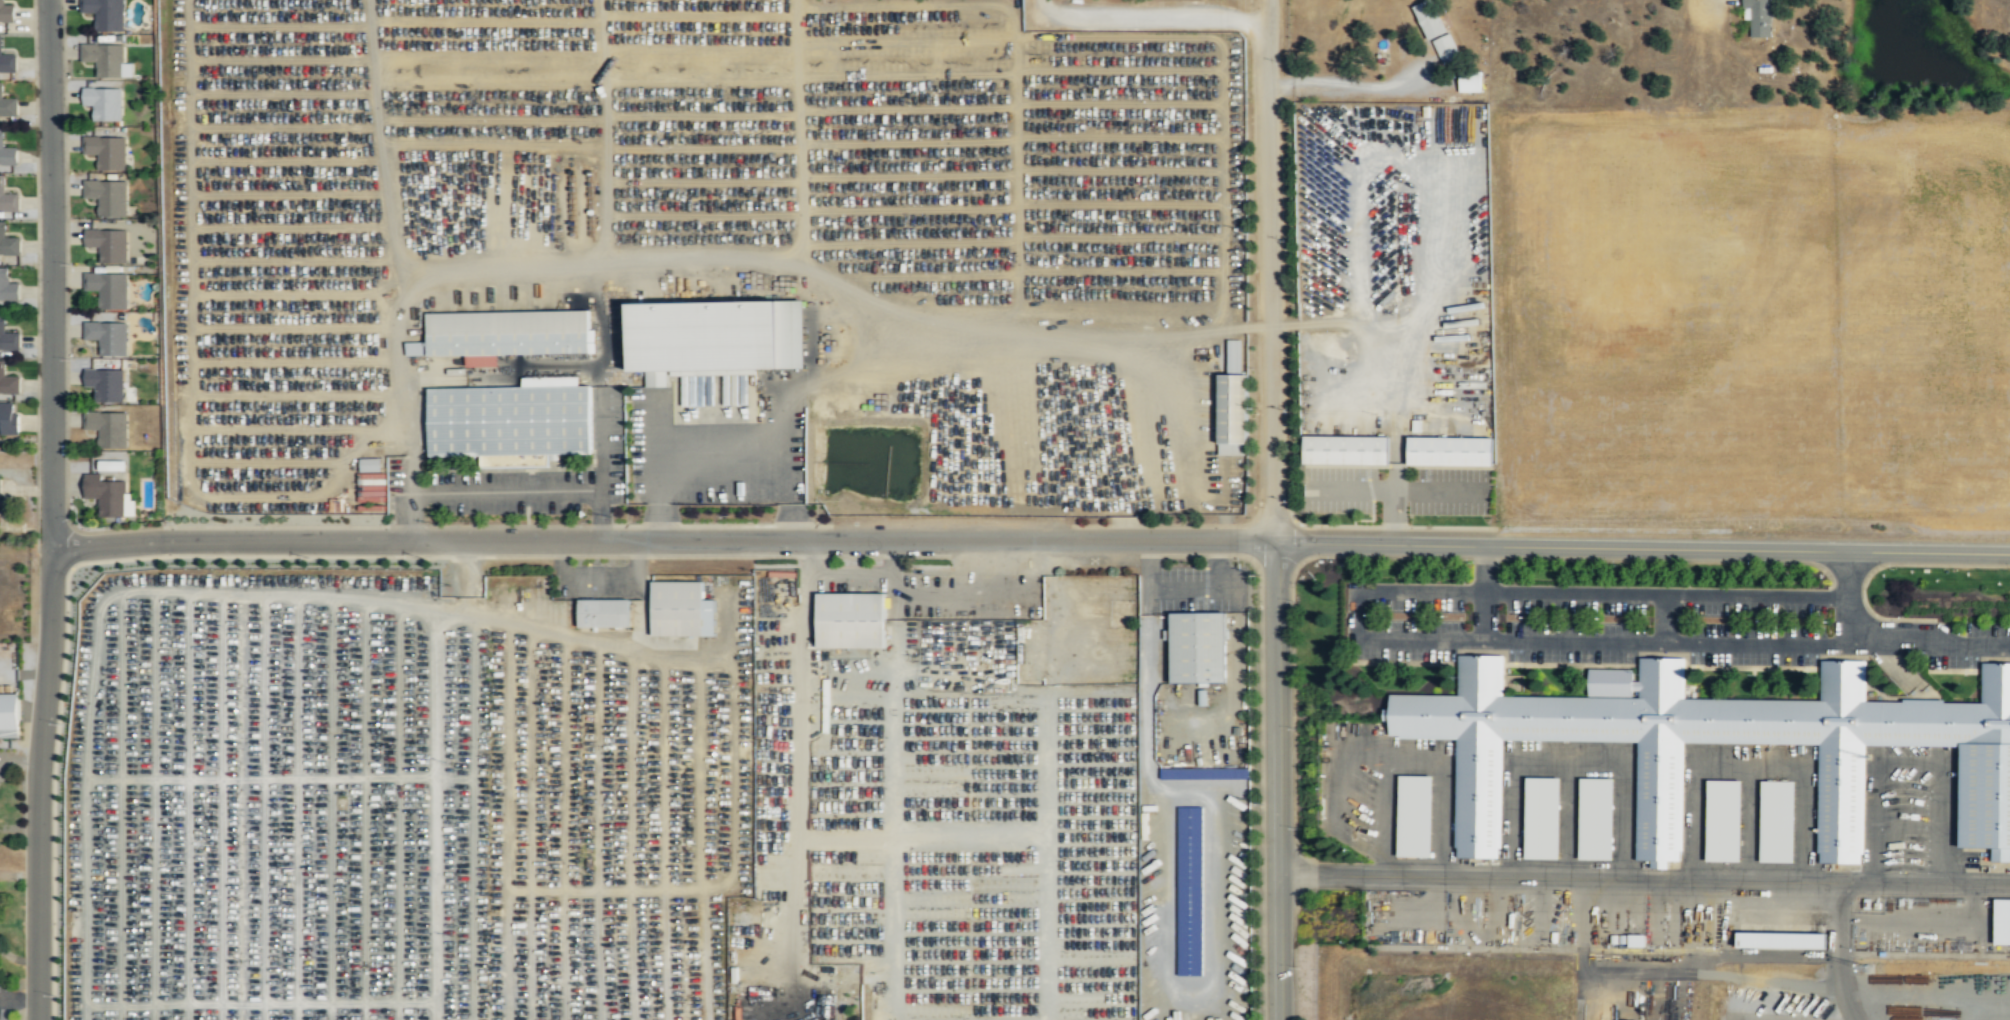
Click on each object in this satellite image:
road: (1708, 4)
road: (1040, 7)
building: (7, 10)
building: (104, 14)
road: (1154, 15)
building: (1758, 16)
building: (1430, 18)
building: (1446, 49)
building: (6, 58)
building: (105, 60)
road: (1338, 84)
building: (1470, 84)
building: (7, 102)
building: (103, 104)
building: (6, 151)
building: (105, 152)
building: (7, 195)
building: (107, 198)
building: (8, 240)
building: (106, 245)
road: (1268, 270)
road: (52, 272)
building: (8, 287)
building: (107, 291)
building: (505, 334)
building: (715, 337)
building: (8, 338)
building: (106, 338)
building: (8, 383)
building: (104, 386)
building: (1233, 405)
building: (8, 420)
building: (511, 421)
building: (106, 429)
building: (1345, 450)
building: (1449, 451)
building: (110, 465)
building: (368, 465)
building: (109, 496)
road: (661, 539)
road: (1641, 546)
road: (1847, 575)
building: (773, 587)
road: (1641, 594)
building: (681, 609)
building: (604, 614)
road: (1485, 616)
road: (1666, 619)
building: (851, 620)
parking lot: (1594, 630)
road: (1514, 640)
road: (1904, 645)
parking lot: (1972, 646)
building: (1199, 647)
building: (11, 716)
road: (1413, 760)
road: (1569, 761)
road: (1750, 763)
road: (1907, 763)
road: (1336, 768)
building: (1189, 773)
road: (1277, 780)
road: (38, 782)
building: (1985, 796)
parking lot: (1910, 812)
building: (1414, 816)
building: (1542, 818)
building: (1595, 818)
road: (1568, 820)
building: (1723, 820)
building: (1777, 821)
road: (1750, 822)
road: (1643, 879)
building: (1190, 891)
building: (2001, 921)
building: (1779, 939)
building: (1635, 940)
road: (1297, 950)
road: (1841, 952)

